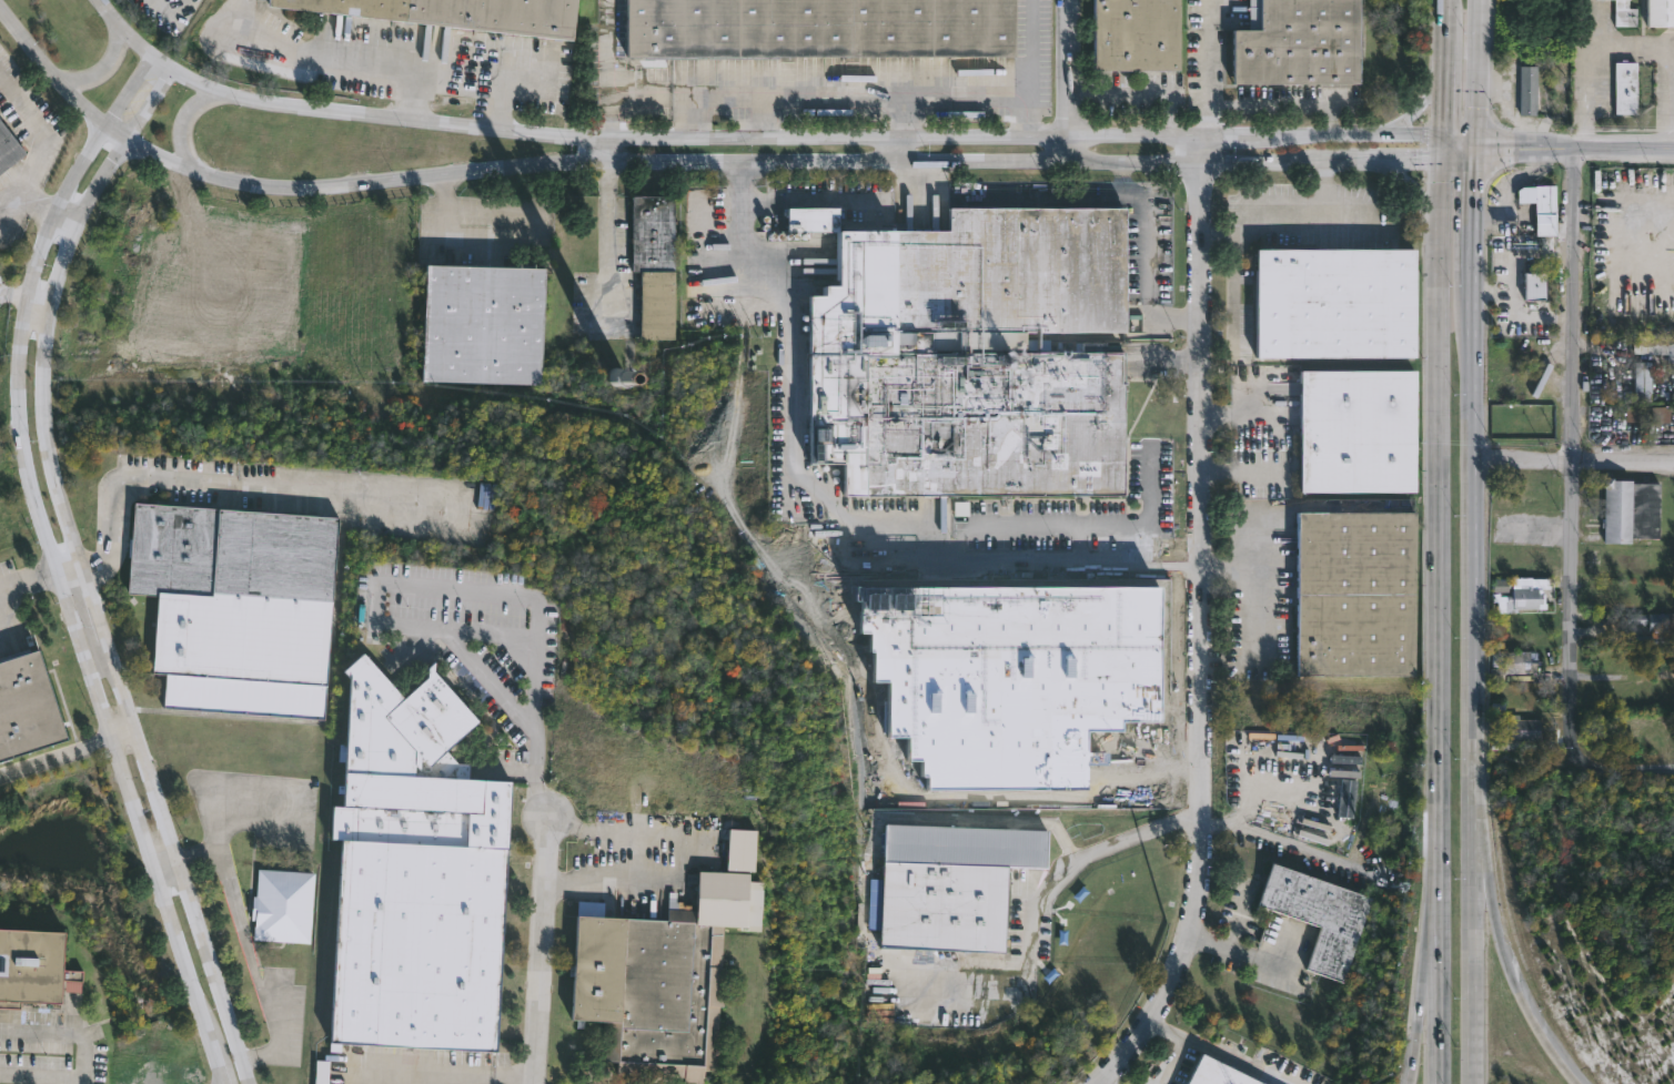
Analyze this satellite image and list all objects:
building: (463, 12)
building: (1658, 12)
building: (1618, 13)
road: (1451, 23)
road: (129, 28)
building: (821, 28)
building: (1140, 34)
building: (1303, 42)
road: (1029, 50)
road: (1672, 52)
road: (371, 58)
road: (1202, 67)
road: (103, 69)
road: (1482, 72)
road: (1576, 73)
road: (58, 77)
road: (611, 79)
road: (1072, 80)
building: (1623, 87)
building: (1527, 89)
road: (1450, 91)
road: (411, 92)
road: (1127, 94)
road: (840, 99)
road: (1421, 101)
road: (149, 102)
road: (502, 102)
road: (1280, 103)
road: (1169, 115)
road: (688, 119)
road: (764, 119)
road: (909, 119)
road: (1329, 119)
road: (182, 123)
traffic signals: (1450, 135)
road: (813, 139)
road: (40, 144)
traffic signals: (1483, 145)
building: (9, 148)
road: (900, 149)
road: (1577, 149)
traffic signals: (1450, 158)
road: (800, 159)
road: (1449, 182)
road: (1415, 188)
road: (814, 196)
road: (1270, 203)
building: (1539, 205)
building: (807, 217)
road: (65, 219)
road: (1482, 219)
road: (609, 221)
road: (1345, 229)
building: (652, 233)
building: (1525, 252)
building: (1533, 285)
road: (1236, 296)
building: (1332, 303)
building: (656, 305)
road: (36, 307)
building: (481, 324)
building: (1654, 346)
building: (967, 356)
building: (1643, 382)
building: (1635, 415)
building: (1662, 415)
road: (1238, 417)
building: (1354, 430)
road: (1573, 446)
road: (1525, 460)
road: (1623, 462)
road: (1244, 473)
road: (245, 487)
road: (835, 509)
building: (1633, 510)
road: (1137, 527)
road: (1027, 528)
road: (1444, 528)
road: (1259, 548)
road: (54, 563)
road: (70, 571)
road: (29, 581)
road: (456, 591)
building: (1352, 592)
building: (1525, 599)
building: (233, 605)
road: (94, 609)
road: (1259, 614)
building: (1653, 621)
road: (1201, 622)
road: (493, 629)
building: (1647, 640)
building: (1620, 662)
building: (1516, 665)
road: (1474, 687)
building: (26, 706)
building: (1526, 730)
road: (123, 736)
road: (1622, 756)
road: (56, 757)
road: (1287, 843)
road: (164, 863)
road: (649, 870)
building: (413, 871)
building: (947, 884)
road: (1483, 885)
building: (726, 887)
road: (1030, 902)
building: (283, 904)
building: (1318, 913)
road: (251, 951)
road: (543, 954)
road: (1240, 955)
road: (1440, 955)
road: (1428, 956)
building: (33, 965)
building: (644, 989)
road: (1525, 1009)
road: (67, 1032)
road: (1180, 1047)
building: (322, 1071)
road: (41, 1072)
building: (1217, 1073)
road: (435, 1074)
road: (221, 1082)
road: (222, 1082)
road: (1102, 1083)

